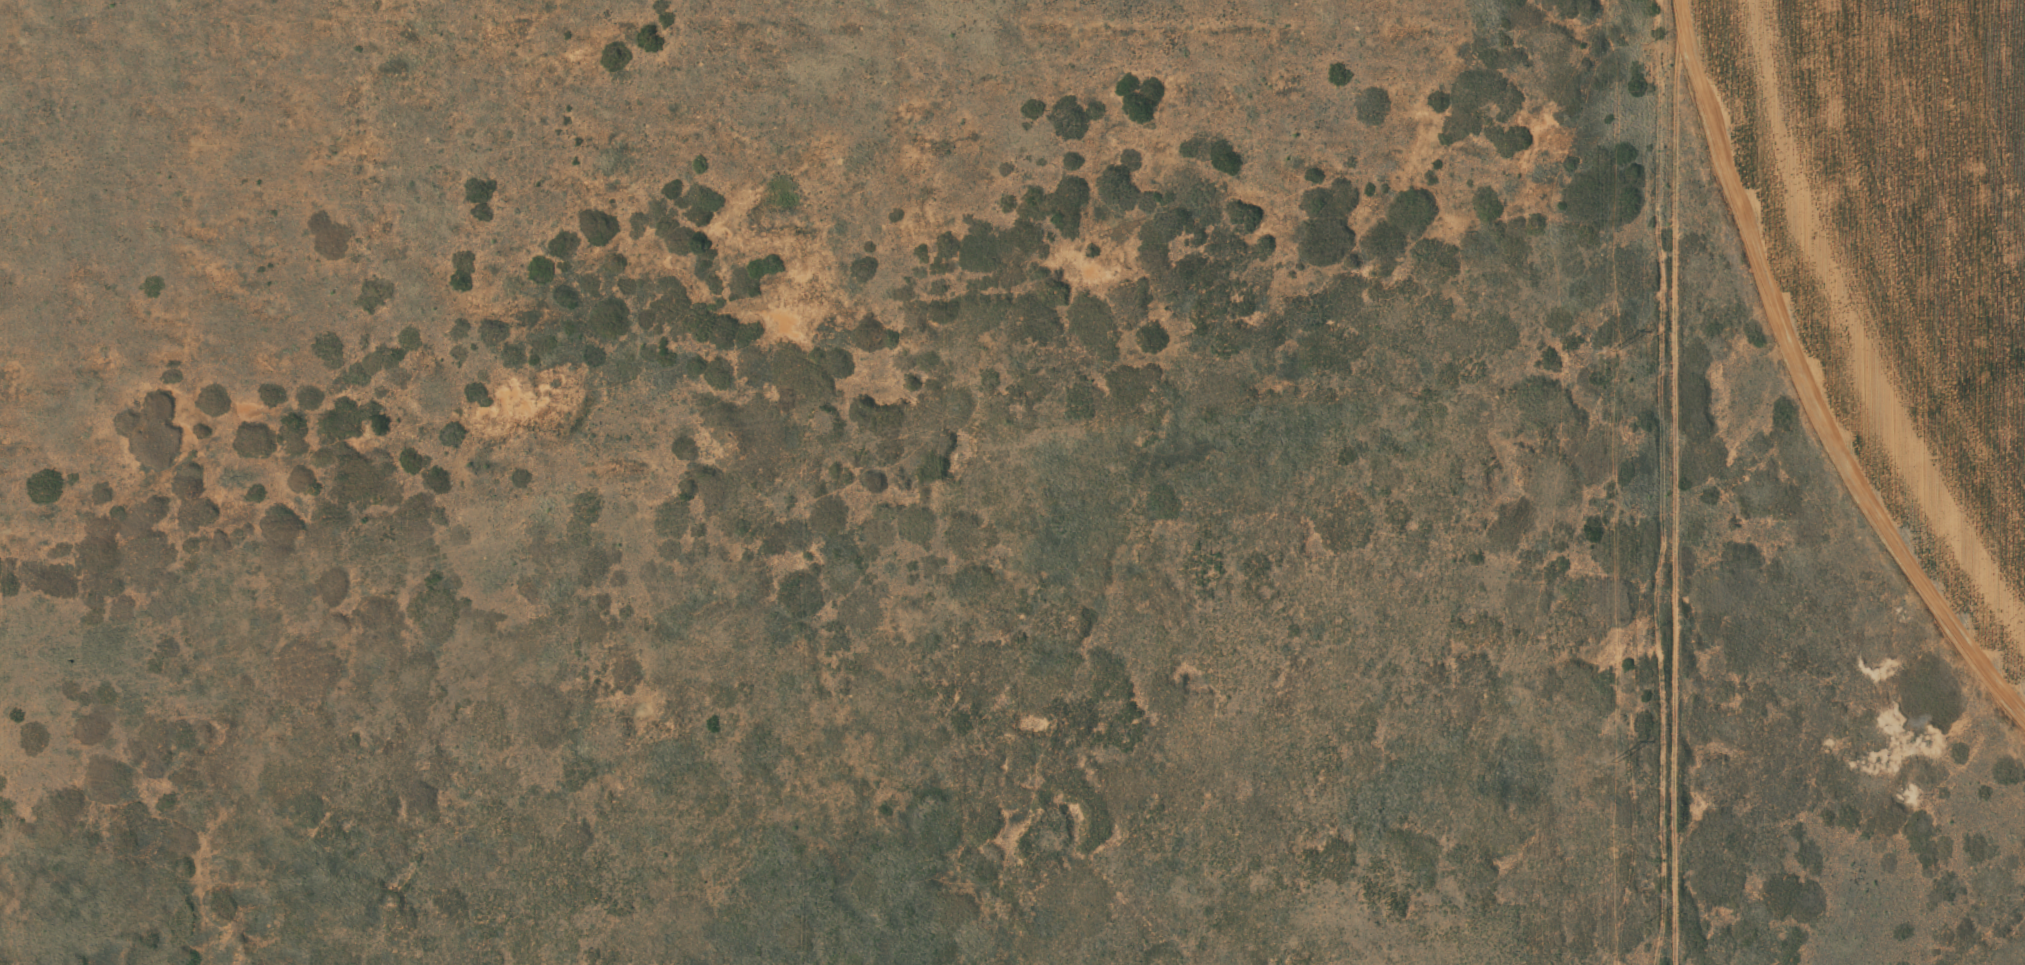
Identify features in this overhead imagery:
power tower: (1611, 350)
road: (1656, 482)
power tower: (1615, 761)

